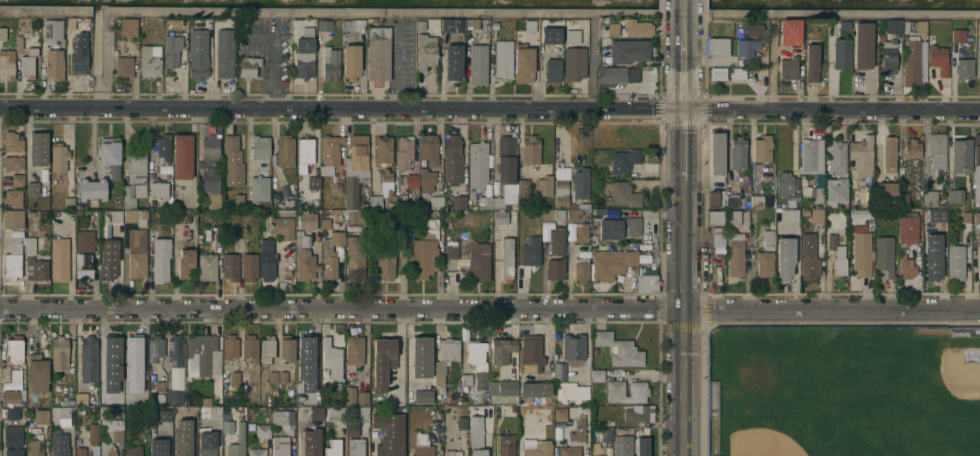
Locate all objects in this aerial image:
road: (682, 9)
building: (371, 19)
building: (470, 22)
building: (324, 24)
building: (357, 24)
building: (447, 24)
building: (844, 24)
building: (890, 24)
building: (419, 26)
building: (914, 26)
building: (49, 27)
building: (128, 27)
building: (493, 28)
building: (611, 28)
building: (636, 29)
road: (682, 29)
building: (754, 29)
building: (2, 30)
building: (789, 31)
building: (550, 35)
building: (958, 35)
building: (571, 38)
building: (174, 40)
building: (530, 41)
building: (19, 43)
building: (863, 43)
building: (718, 46)
building: (744, 48)
building: (628, 50)
building: (425, 51)
building: (224, 52)
building: (377, 52)
building: (79, 53)
building: (198, 53)
building: (305, 53)
building: (523, 53)
building: (841, 53)
building: (887, 54)
road: (274, 56)
building: (978, 57)
building: (502, 58)
building: (938, 58)
building: (149, 61)
building: (351, 61)
building: (453, 61)
building: (28, 62)
building: (574, 62)
building: (812, 62)
building: (330, 63)
building: (477, 63)
building: (914, 63)
building: (7, 64)
building: (54, 64)
road: (391, 65)
road: (592, 65)
building: (123, 66)
building: (248, 66)
road: (772, 67)
building: (788, 67)
building: (964, 67)
building: (552, 69)
building: (653, 71)
building: (718, 73)
building: (737, 73)
building: (616, 74)
road: (682, 74)
road: (490, 107)
building: (12, 141)
road: (682, 144)
building: (259, 146)
building: (164, 147)
building: (210, 147)
building: (429, 147)
building: (383, 148)
building: (762, 148)
building: (912, 148)
building: (37, 149)
building: (285, 149)
building: (530, 149)
building: (936, 149)
building: (404, 151)
building: (738, 152)
building: (305, 153)
building: (330, 153)
building: (717, 153)
building: (889, 153)
building: (110, 154)
building: (840, 155)
building: (961, 155)
building: (58, 156)
building: (183, 156)
building: (862, 157)
building: (232, 159)
building: (452, 159)
building: (506, 159)
building: (623, 160)
building: (13, 162)
building: (137, 165)
building: (476, 166)
building: (812, 166)
building: (976, 167)
building: (355, 168)
building: (210, 178)
building: (17, 179)
building: (400, 179)
building: (426, 179)
building: (803, 180)
building: (313, 182)
building: (386, 182)
building: (412, 183)
building: (580, 184)
building: (336, 185)
building: (375, 185)
building: (544, 185)
building: (561, 186)
building: (259, 187)
building: (786, 187)
building: (92, 188)
building: (32, 189)
building: (140, 189)
building: (158, 189)
building: (836, 190)
building: (885, 190)
building: (523, 192)
building: (622, 194)
building: (955, 195)
building: (129, 196)
building: (13, 197)
building: (930, 197)
building: (238, 198)
building: (903, 198)
building: (214, 200)
building: (713, 200)
building: (732, 200)
building: (117, 201)
building: (401, 201)
building: (458, 201)
building: (757, 201)
building: (376, 202)
building: (437, 202)
building: (485, 202)
building: (499, 202)
building: (69, 203)
building: (286, 203)
building: (721, 203)
building: (599, 210)
building: (285, 212)
building: (805, 212)
building: (902, 212)
building: (548, 214)
building: (573, 214)
building: (792, 214)
building: (860, 214)
building: (116, 215)
building: (130, 215)
building: (560, 215)
building: (935, 215)
building: (181, 216)
building: (357, 216)
building: (500, 216)
building: (734, 216)
building: (966, 216)
building: (716, 217)
building: (977, 217)
building: (13, 218)
building: (390, 219)
building: (307, 220)
building: (282, 226)
building: (430, 226)
building: (619, 227)
building: (907, 229)
building: (942, 229)
building: (581, 233)
building: (594, 237)
building: (768, 237)
building: (137, 239)
building: (556, 240)
building: (716, 241)
building: (451, 251)
building: (530, 253)
building: (862, 253)
building: (84, 254)
building: (330, 254)
building: (735, 254)
building: (785, 256)
building: (884, 256)
building: (305, 257)
building: (423, 257)
building: (837, 257)
building: (13, 258)
building: (59, 258)
building: (109, 258)
building: (161, 258)
building: (354, 258)
building: (507, 258)
building: (267, 259)
building: (808, 259)
building: (478, 260)
building: (34, 261)
building: (385, 261)
building: (932, 261)
building: (185, 262)
building: (611, 262)
building: (956, 262)
building: (979, 262)
building: (765, 263)
building: (137, 264)
building: (230, 265)
building: (207, 266)
building: (249, 266)
building: (905, 266)
building: (555, 269)
building: (581, 269)
building: (647, 282)
road: (490, 308)
road: (681, 318)
building: (229, 346)
building: (250, 346)
building: (155, 347)
building: (286, 347)
building: (306, 347)
building: (14, 348)
building: (267, 348)
building: (573, 348)
building: (619, 349)
building: (502, 350)
building: (354, 351)
building: (59, 352)
building: (135, 352)
building: (204, 353)
building: (531, 353)
building: (109, 357)
building: (332, 357)
building: (421, 357)
building: (445, 357)
building: (88, 358)
building: (478, 360)
building: (382, 362)
park: (960, 366)
building: (175, 370)
building: (559, 371)
building: (37, 372)
building: (15, 374)
building: (596, 375)
building: (272, 376)
building: (282, 376)
building: (244, 377)
building: (312, 377)
building: (261, 378)
building: (234, 379)
building: (467, 379)
building: (337, 385)
building: (160, 386)
building: (503, 387)
building: (535, 389)
park: (840, 389)
building: (441, 390)
building: (571, 390)
building: (639, 391)
building: (139, 394)
building: (14, 395)
building: (350, 395)
building: (422, 396)
building: (362, 397)
building: (81, 398)
building: (153, 398)
building: (161, 400)
building: (525, 401)
building: (510, 410)
building: (215, 411)
building: (275, 411)
building: (12, 412)
building: (64, 412)
building: (305, 412)
building: (336, 412)
building: (315, 413)
building: (560, 413)
building: (360, 414)
building: (639, 414)
building: (165, 415)
building: (41, 416)
building: (285, 416)
building: (77, 417)
building: (462, 422)
building: (607, 422)
building: (227, 423)
building: (339, 423)
building: (189, 428)
building: (110, 430)
building: (262, 430)
building: (352, 430)
building: (577, 432)
building: (389, 433)
building: (12, 435)
building: (606, 435)
building: (477, 436)
building: (144, 439)
building: (90, 442)
building: (237, 442)
park: (755, 442)
building: (207, 443)
building: (35, 444)
building: (59, 444)
building: (280, 445)
building: (506, 445)
building: (355, 446)
building: (422, 446)
building: (642, 446)
building: (333, 447)
building: (158, 448)
building: (311, 448)
building: (539, 449)
building: (597, 449)
building: (133, 450)
building: (14, 451)
building: (569, 451)
building: (618, 451)
building: (257, 452)
building: (452, 452)
building: (183, 453)

